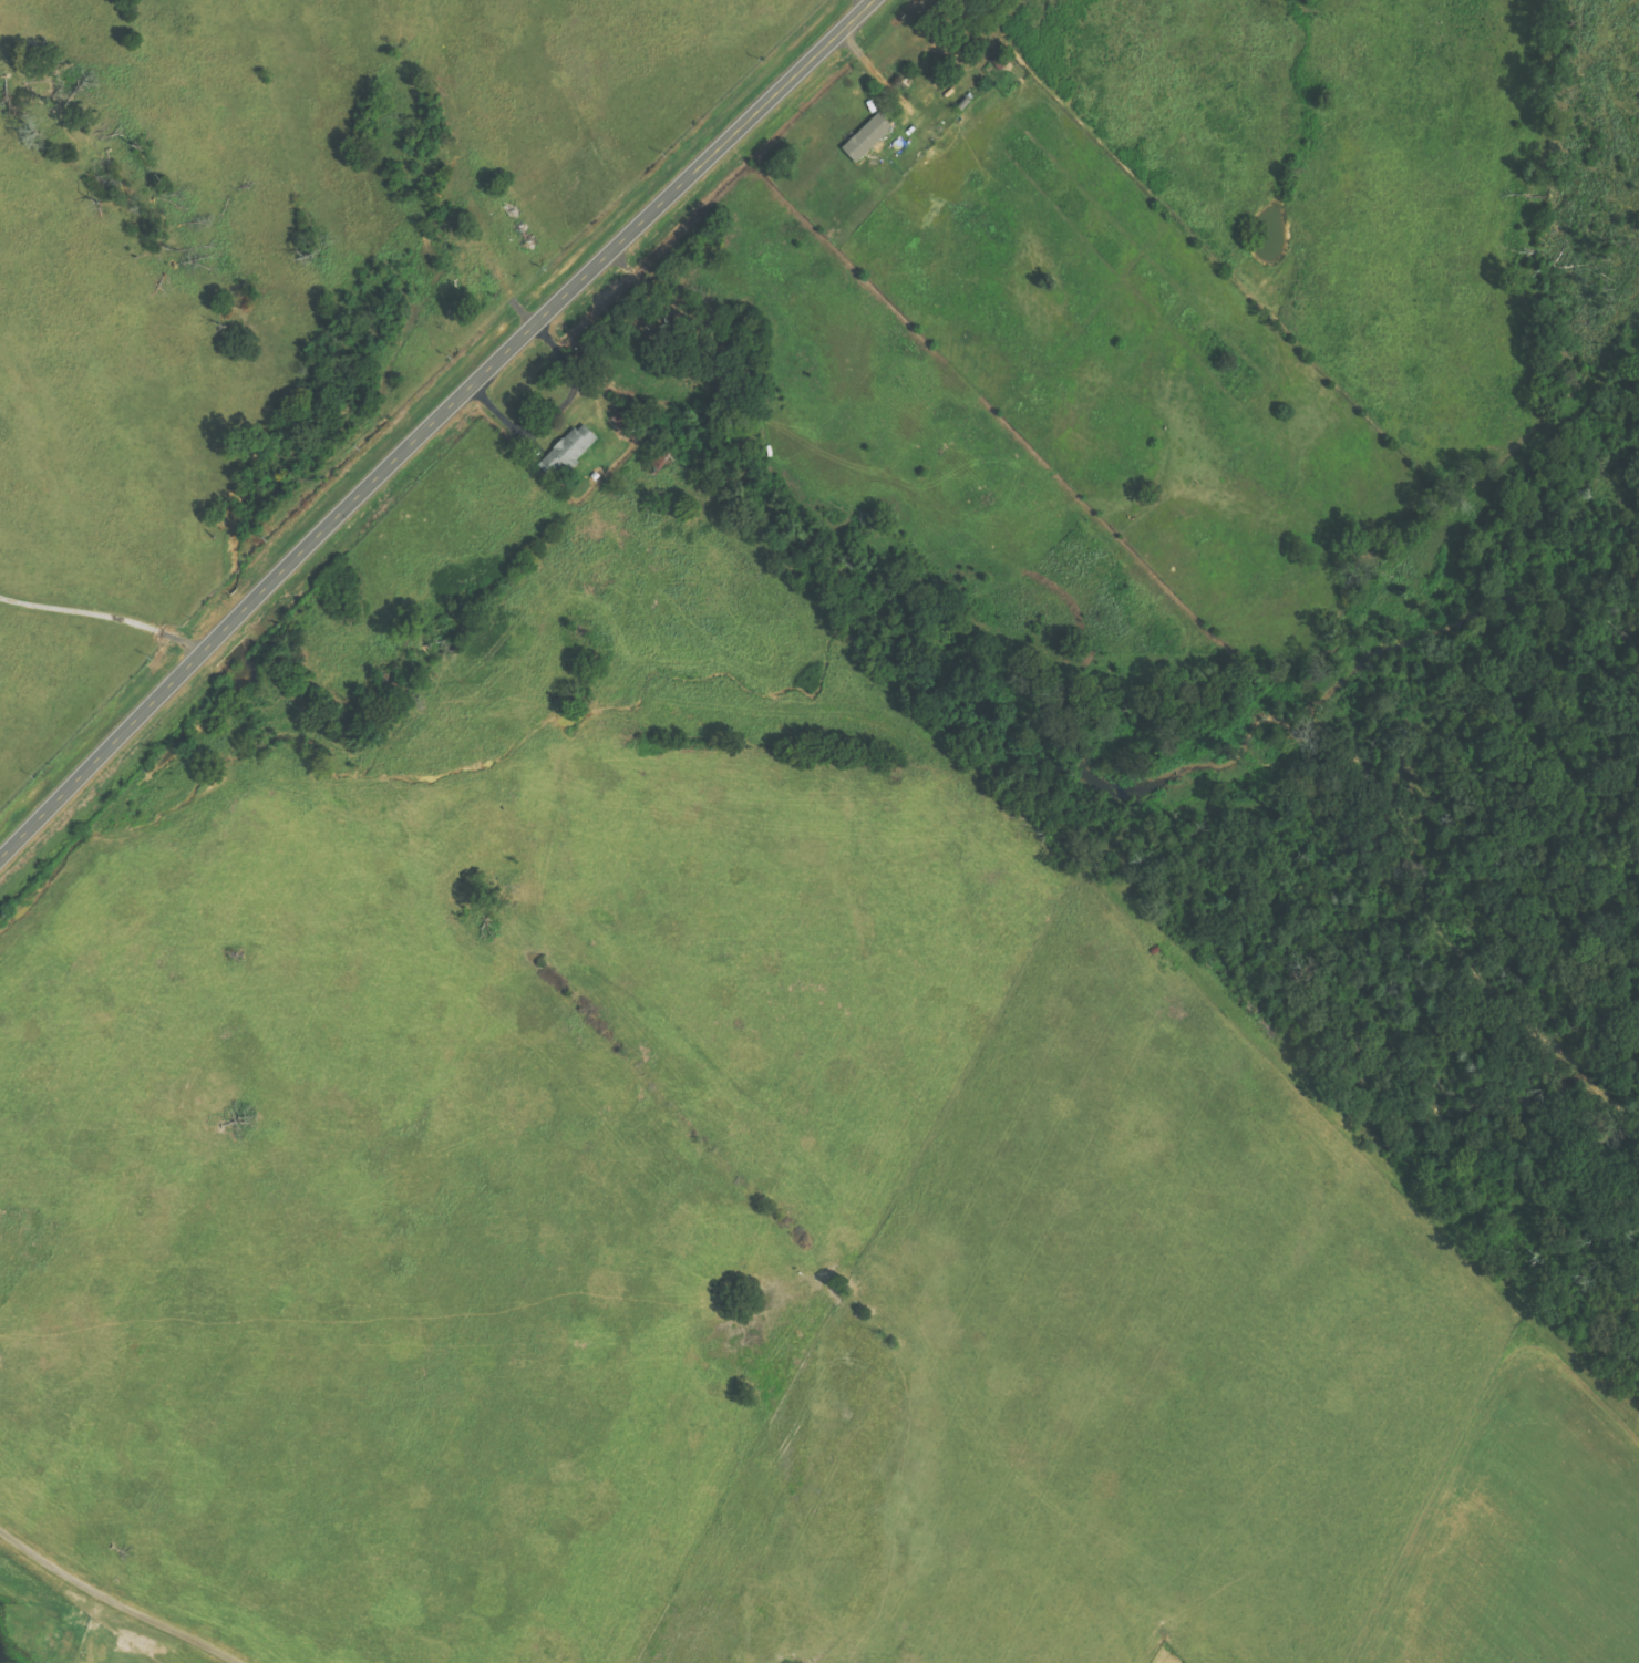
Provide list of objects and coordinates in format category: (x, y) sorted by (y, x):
building: (866, 136)
building: (628, 424)
road: (434, 425)
building: (568, 450)
road: (117, 1592)

